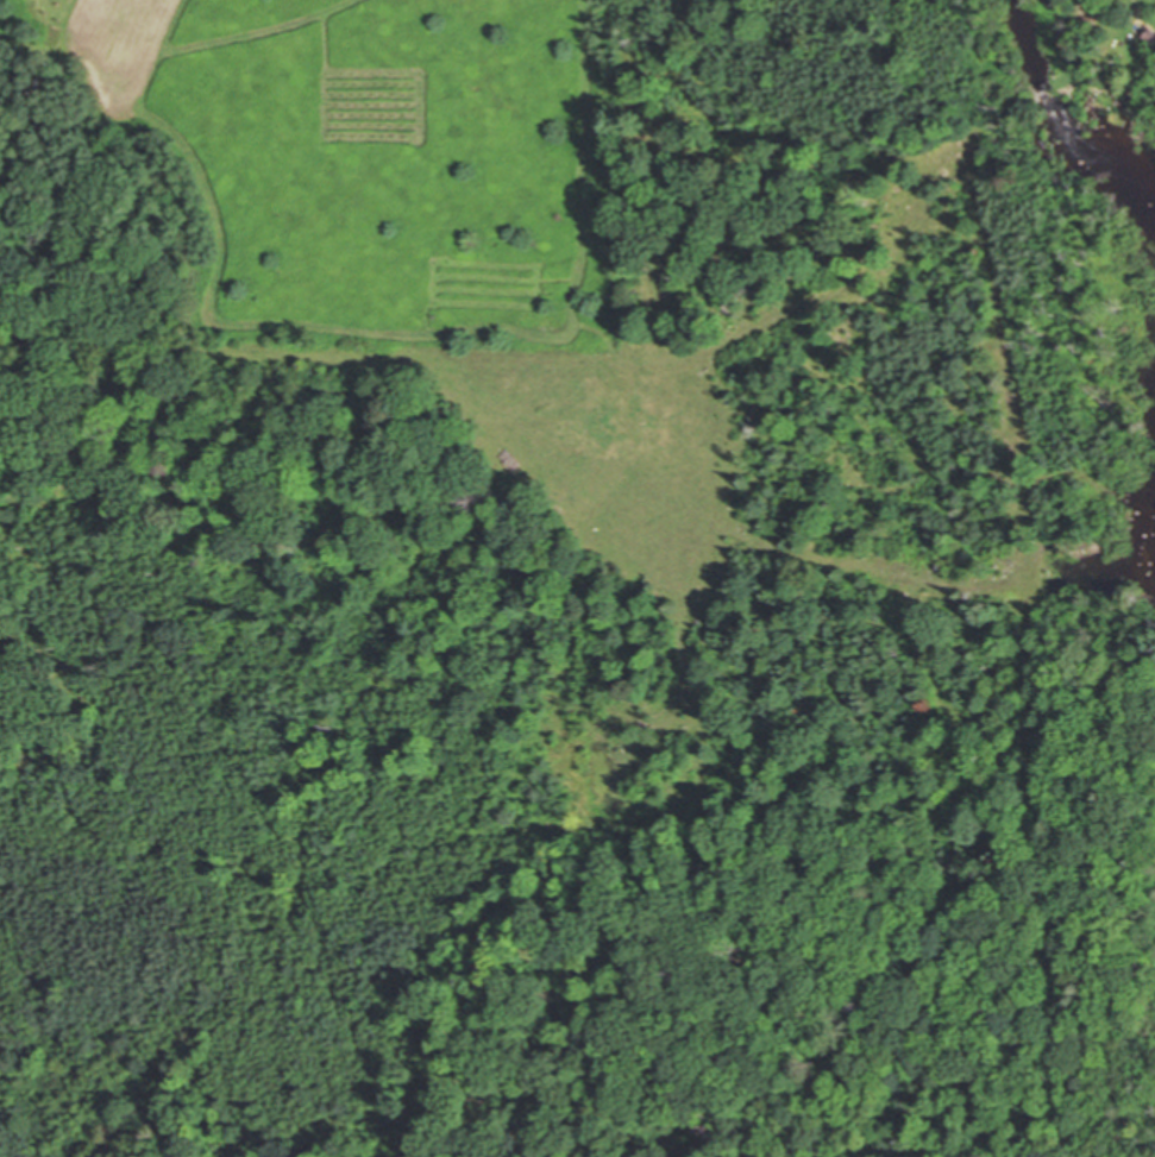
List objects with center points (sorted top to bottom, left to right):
building: (1151, 39)
river: (1080, 115)

